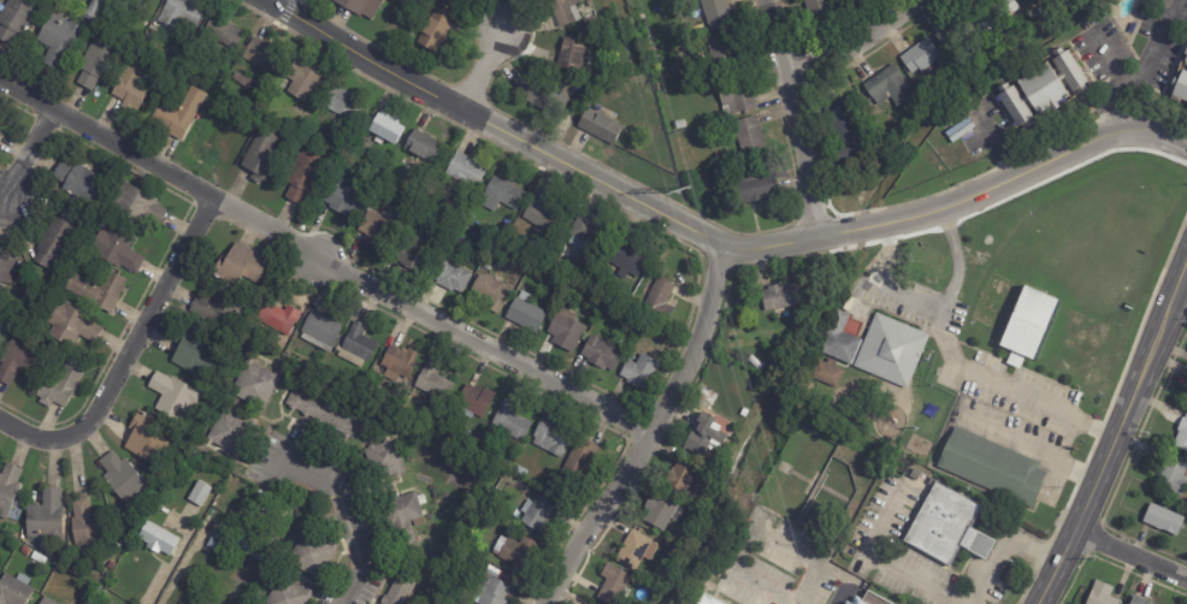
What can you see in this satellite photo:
road: (271, 0)
building: (1041, 0)
building: (438, 1)
building: (137, 4)
building: (589, 4)
building: (360, 6)
building: (91, 11)
building: (820, 12)
building: (562, 13)
building: (715, 13)
building: (994, 14)
building: (179, 16)
building: (16, 20)
building: (590, 24)
building: (631, 25)
building: (435, 29)
building: (223, 32)
building: (955, 32)
road: (840, 35)
building: (60, 40)
building: (1186, 53)
building: (571, 55)
building: (724, 55)
building: (920, 55)
building: (261, 57)
road: (1108, 57)
building: (177, 58)
building: (654, 58)
building: (752, 60)
building: (96, 63)
building: (1186, 65)
road: (1140, 69)
road: (482, 70)
building: (242, 79)
building: (299, 82)
building: (132, 83)
building: (890, 87)
building: (1180, 89)
building: (1043, 90)
building: (736, 95)
building: (547, 96)
building: (252, 103)
building: (339, 103)
building: (959, 113)
building: (178, 116)
road: (795, 117)
building: (600, 126)
building: (386, 130)
building: (959, 130)
building: (0, 135)
building: (749, 135)
building: (848, 135)
building: (424, 148)
road: (545, 153)
building: (720, 155)
building: (260, 156)
road: (24, 166)
road: (1029, 168)
building: (465, 171)
building: (349, 172)
building: (303, 177)
building: (708, 177)
building: (79, 183)
building: (756, 185)
power tower: (684, 189)
building: (501, 195)
building: (342, 201)
building: (136, 206)
building: (545, 217)
road: (856, 229)
building: (374, 231)
building: (502, 233)
building: (586, 235)
building: (54, 238)
building: (515, 244)
building: (116, 249)
building: (413, 254)
building: (626, 260)
road: (323, 263)
building: (488, 263)
building: (240, 266)
building: (560, 267)
building: (7, 270)
building: (449, 277)
building: (553, 279)
building: (98, 291)
building: (488, 295)
building: (780, 296)
building: (595, 301)
building: (659, 301)
building: (218, 312)
building: (525, 313)
building: (276, 316)
building: (1027, 325)
building: (70, 326)
building: (2, 331)
building: (566, 331)
building: (650, 331)
building: (319, 332)
building: (840, 339)
building: (355, 347)
building: (891, 350)
building: (300, 351)
building: (194, 354)
building: (601, 355)
building: (19, 360)
road: (125, 360)
building: (754, 360)
road: (955, 361)
building: (398, 362)
building: (319, 366)
building: (331, 371)
building: (639, 372)
building: (829, 373)
building: (742, 374)
building: (433, 383)
building: (60, 385)
building: (254, 386)
building: (171, 396)
building: (377, 397)
building: (474, 403)
building: (745, 413)
building: (321, 415)
building: (509, 424)
building: (427, 426)
building: (230, 432)
road: (649, 433)
building: (1182, 433)
building: (703, 434)
road: (1114, 434)
building: (551, 438)
building: (146, 440)
building: (470, 444)
road: (1030, 449)
building: (479, 450)
building: (383, 461)
building: (579, 462)
building: (993, 466)
building: (521, 472)
building: (1174, 474)
building: (683, 475)
building: (124, 476)
building: (425, 480)
building: (8, 487)
building: (200, 495)
building: (295, 496)
building: (698, 503)
building: (256, 508)
building: (660, 510)
road: (342, 516)
building: (537, 516)
building: (45, 517)
building: (402, 517)
building: (1164, 519)
building: (947, 526)
building: (87, 528)
building: (158, 540)
building: (14, 543)
building: (253, 543)
building: (220, 544)
building: (634, 550)
road: (999, 550)
building: (25, 551)
building: (472, 551)
building: (515, 552)
road: (1132, 552)
building: (311, 556)
building: (39, 558)
road: (880, 563)
road: (167, 564)
building: (110, 567)
road: (181, 568)
building: (455, 578)
building: (503, 579)
building: (613, 584)
building: (401, 588)
building: (14, 591)
building: (492, 592)
building: (288, 593)
building: (1102, 593)
building: (708, 599)
building: (872, 599)
building: (1138, 600)
building: (46, 602)
building: (849, 603)

